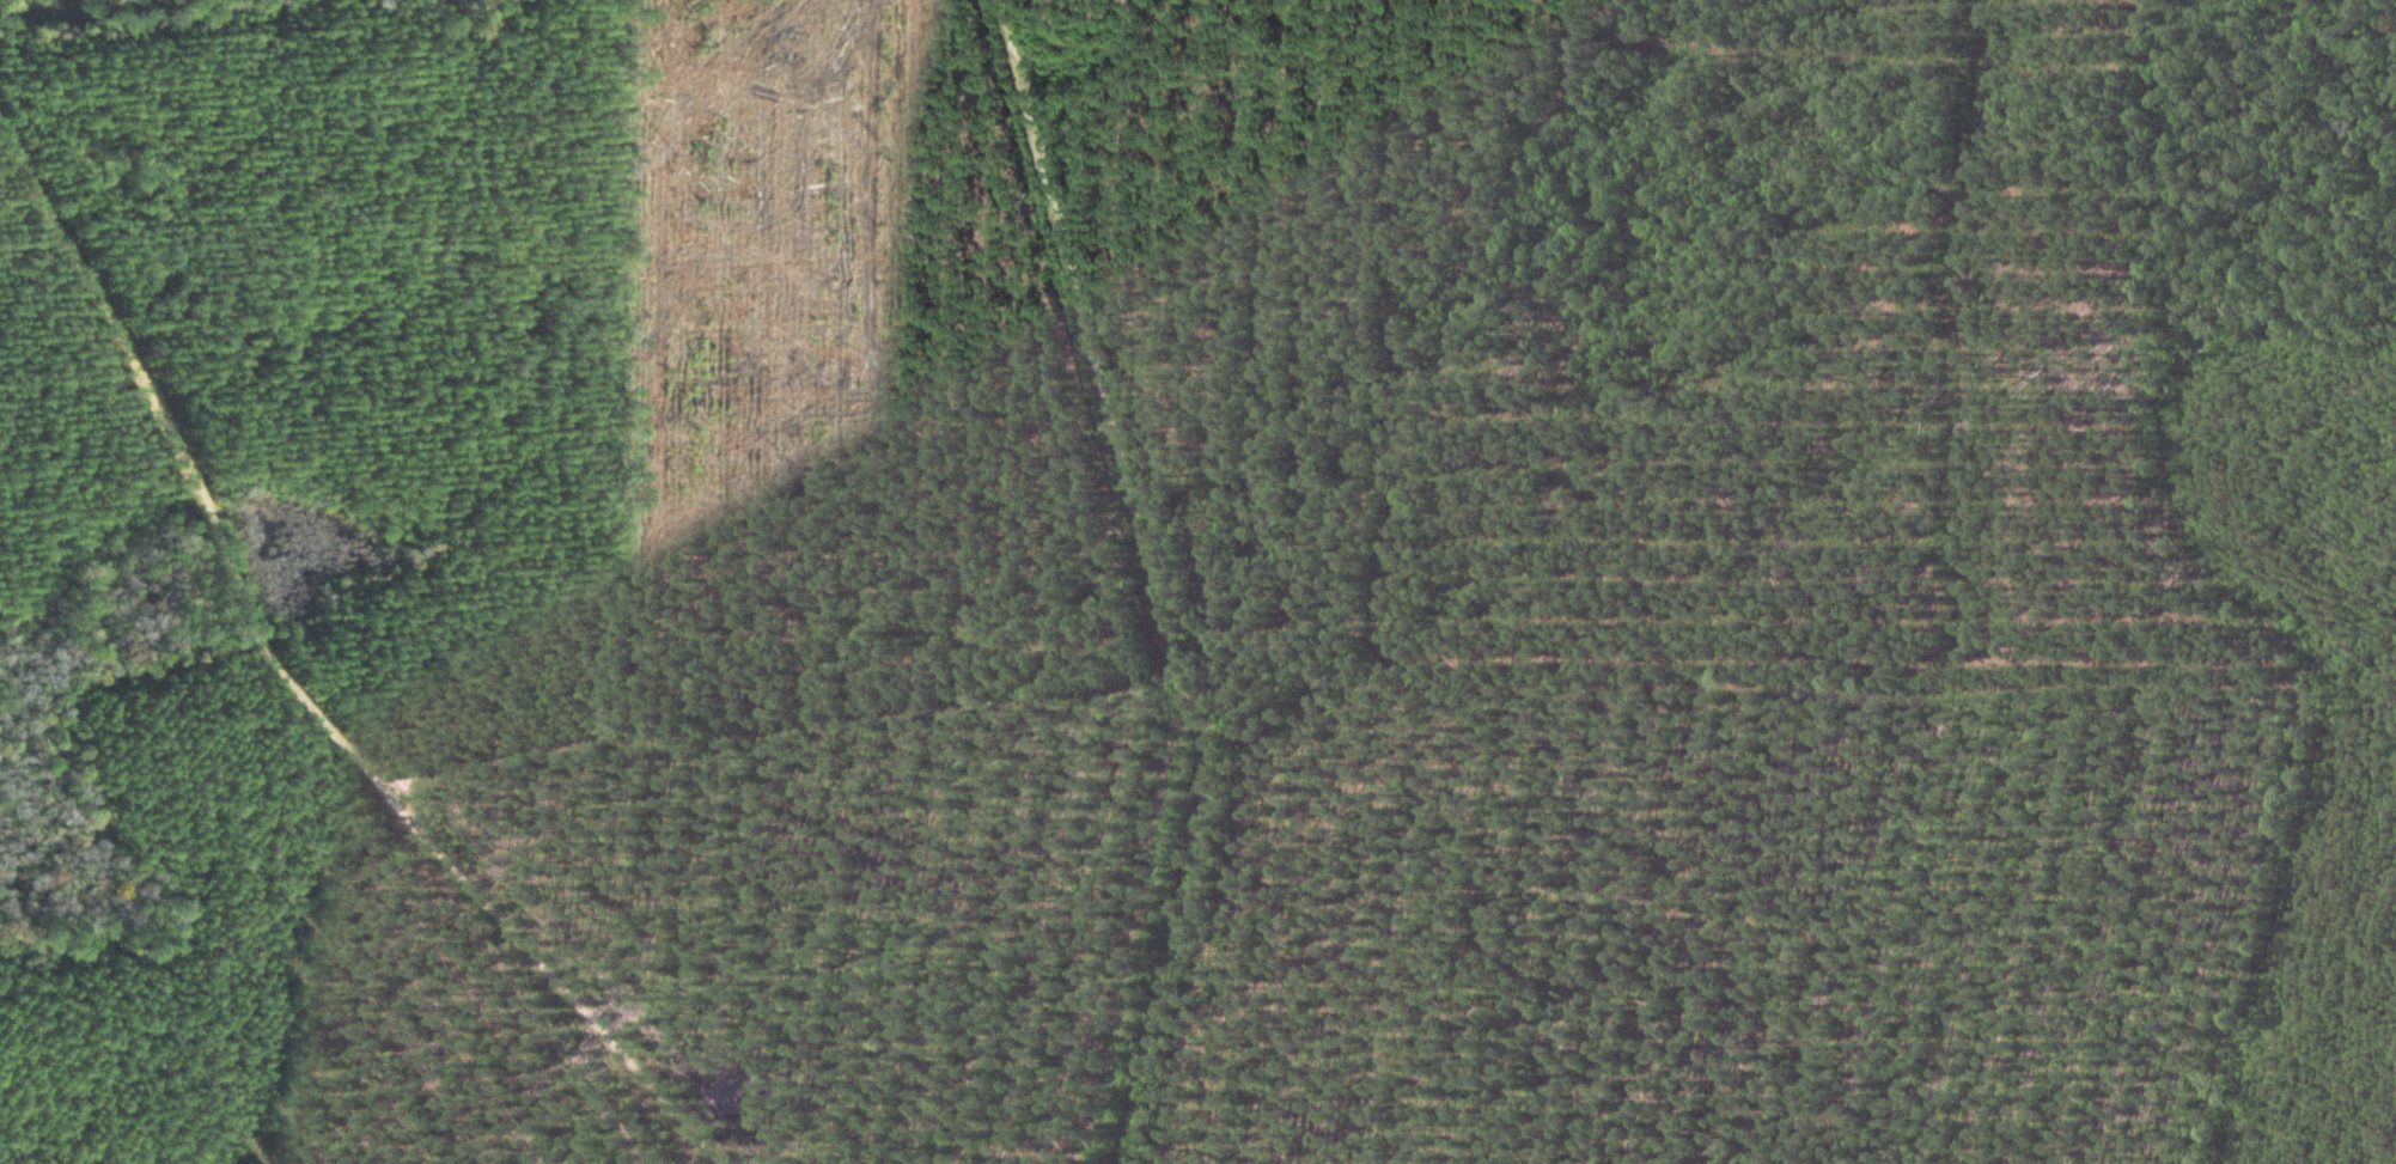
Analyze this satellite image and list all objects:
road: (68, 236)
road: (361, 779)

